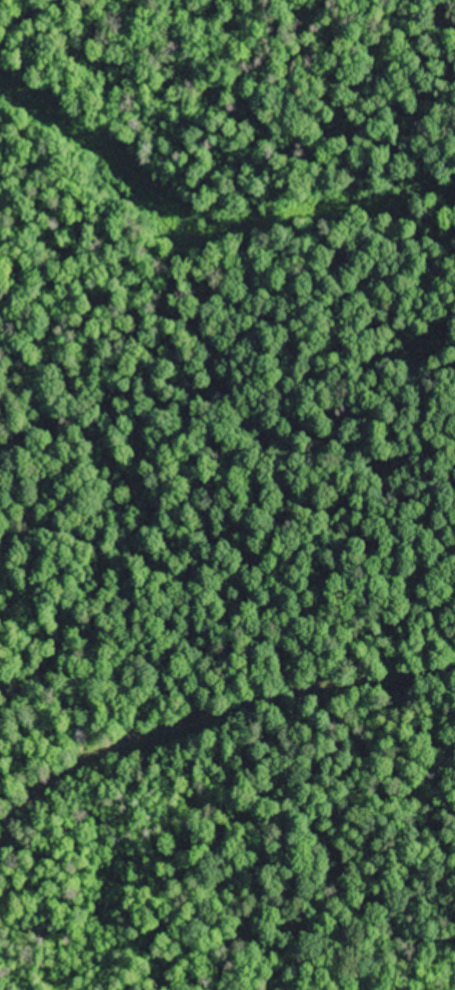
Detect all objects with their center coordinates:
road: (223, 660)

